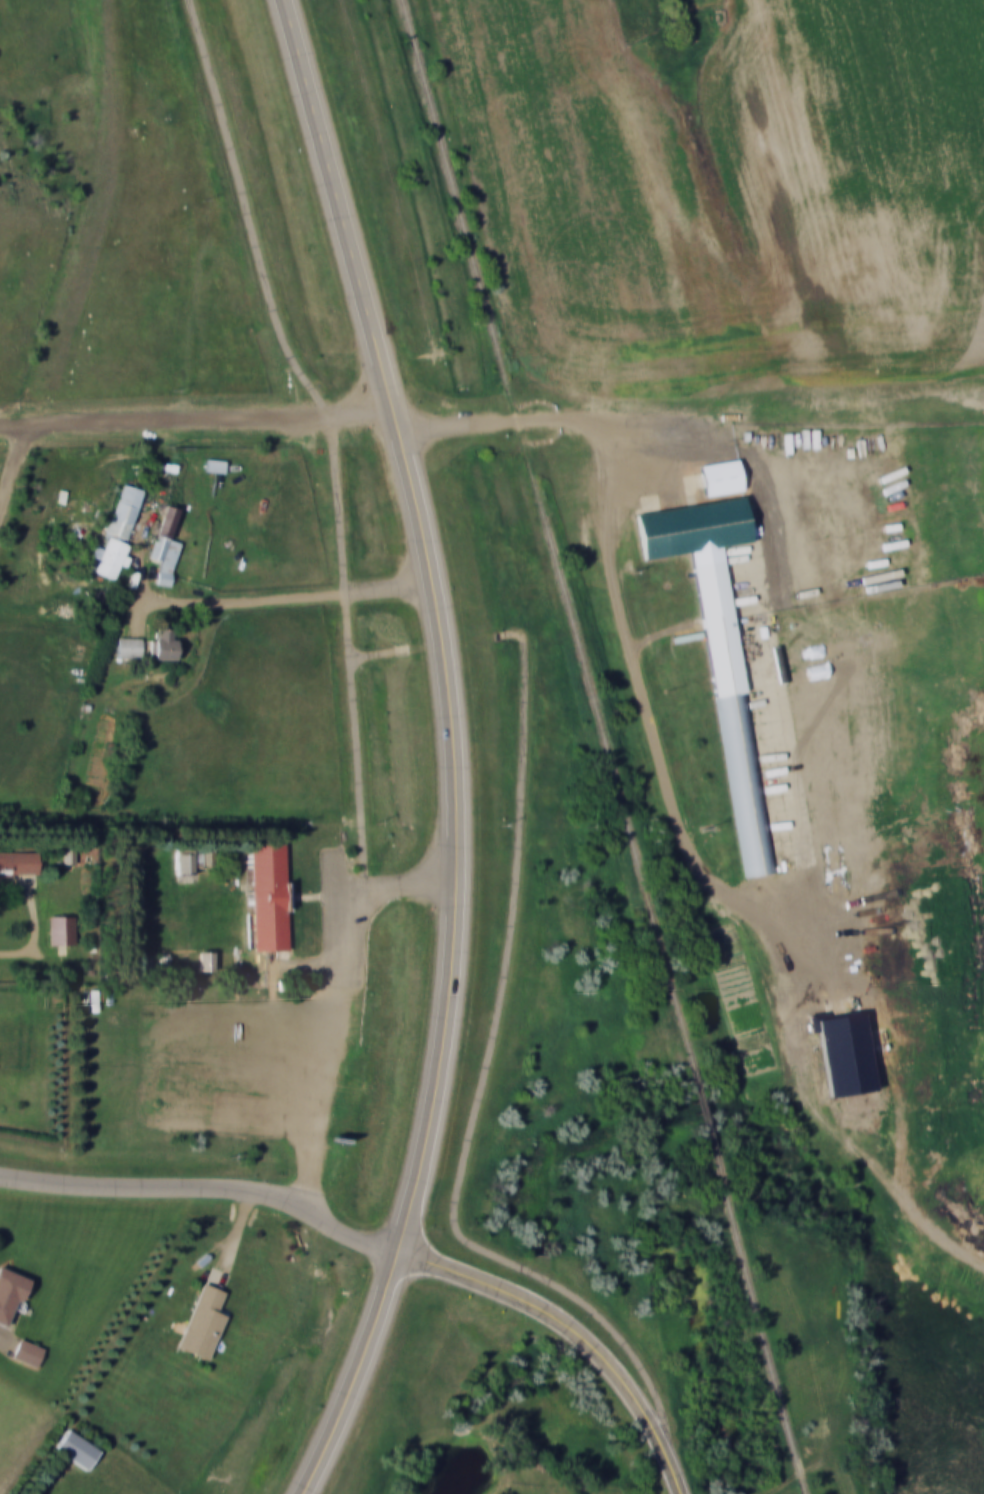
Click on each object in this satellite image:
road: (324, 414)
road: (600, 419)
road: (209, 420)
road: (13, 423)
building: (215, 464)
road: (13, 466)
building: (720, 477)
building: (125, 510)
building: (166, 544)
building: (114, 557)
road: (276, 598)
building: (163, 642)
building: (129, 646)
building: (719, 646)
road: (378, 656)
railway: (604, 747)
road: (451, 749)
building: (68, 855)
building: (19, 862)
building: (187, 863)
road: (406, 879)
road: (710, 880)
building: (267, 895)
building: (61, 928)
road: (37, 933)
building: (206, 959)
road: (333, 1027)
road: (480, 1097)
road: (205, 1187)
building: (11, 1291)
building: (202, 1321)
road: (574, 1333)
building: (27, 1351)
building: (76, 1448)

